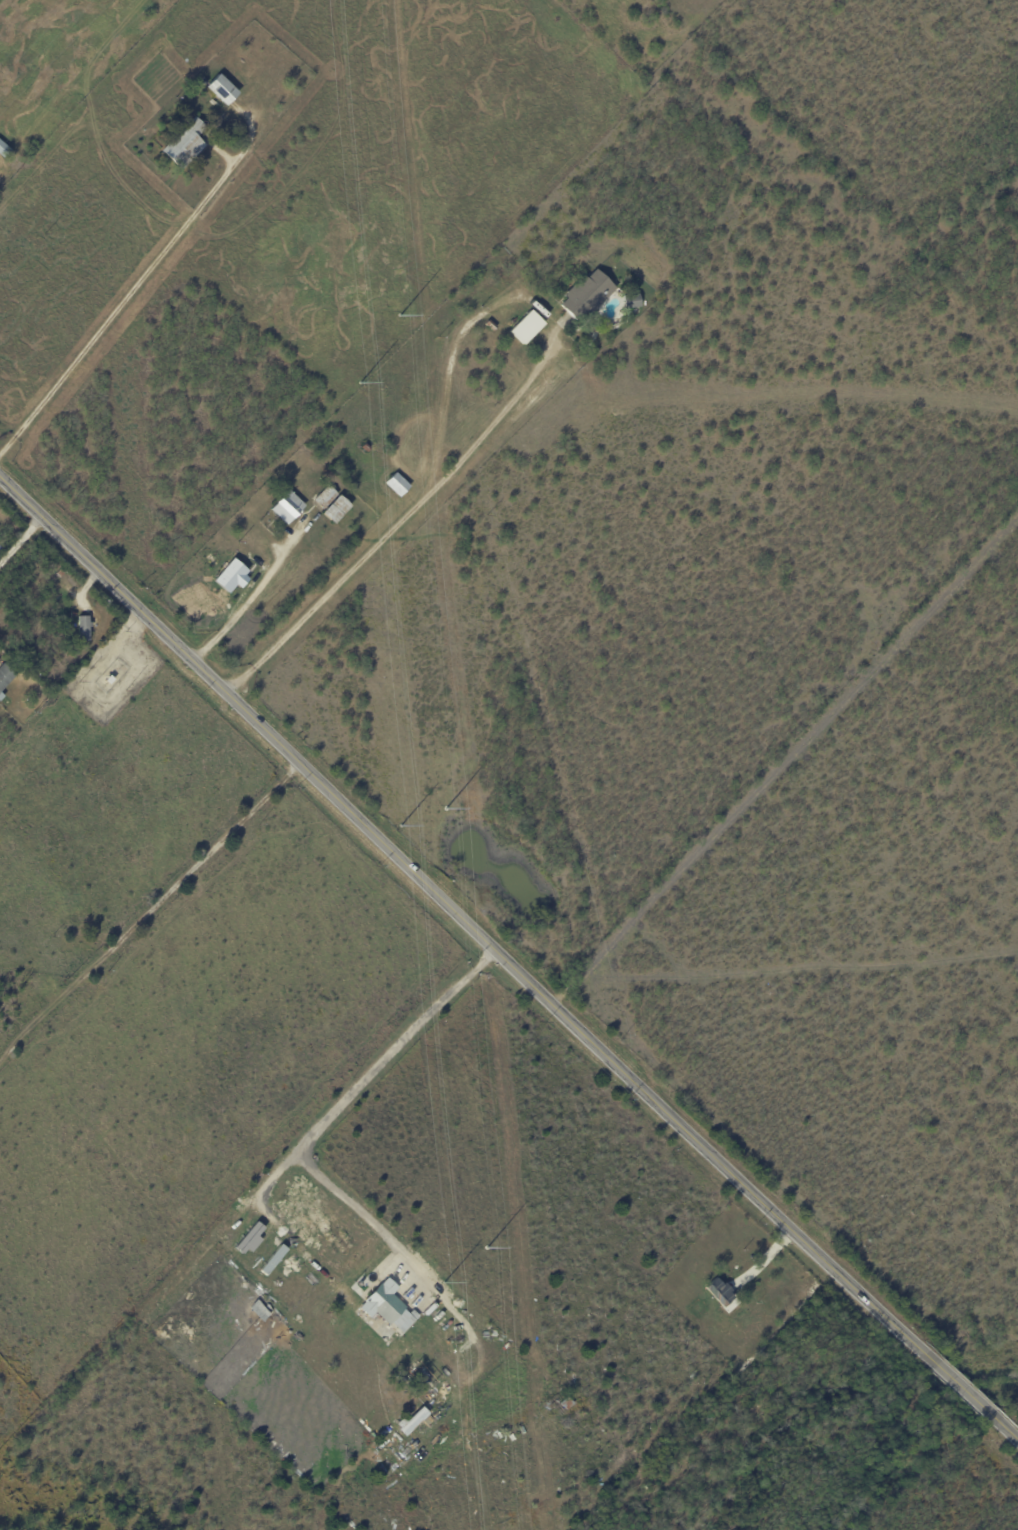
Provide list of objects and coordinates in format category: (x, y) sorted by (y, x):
building: (225, 89)
building: (213, 101)
building: (186, 143)
building: (4, 149)
building: (588, 295)
building: (633, 300)
road: (117, 308)
building: (492, 325)
building: (529, 327)
building: (463, 416)
building: (400, 426)
building: (367, 448)
building: (635, 454)
building: (398, 485)
building: (327, 497)
building: (289, 508)
building: (339, 510)
road: (389, 531)
road: (20, 539)
building: (61, 574)
building: (231, 576)
road: (250, 599)
building: (74, 615)
building: (84, 628)
building: (93, 667)
building: (5, 679)
building: (110, 679)
road: (465, 924)
road: (395, 1055)
road: (282, 1231)
building: (249, 1239)
road: (430, 1285)
building: (724, 1298)
building: (385, 1302)
road: (963, 1389)
building: (408, 1427)
road: (1004, 1428)

